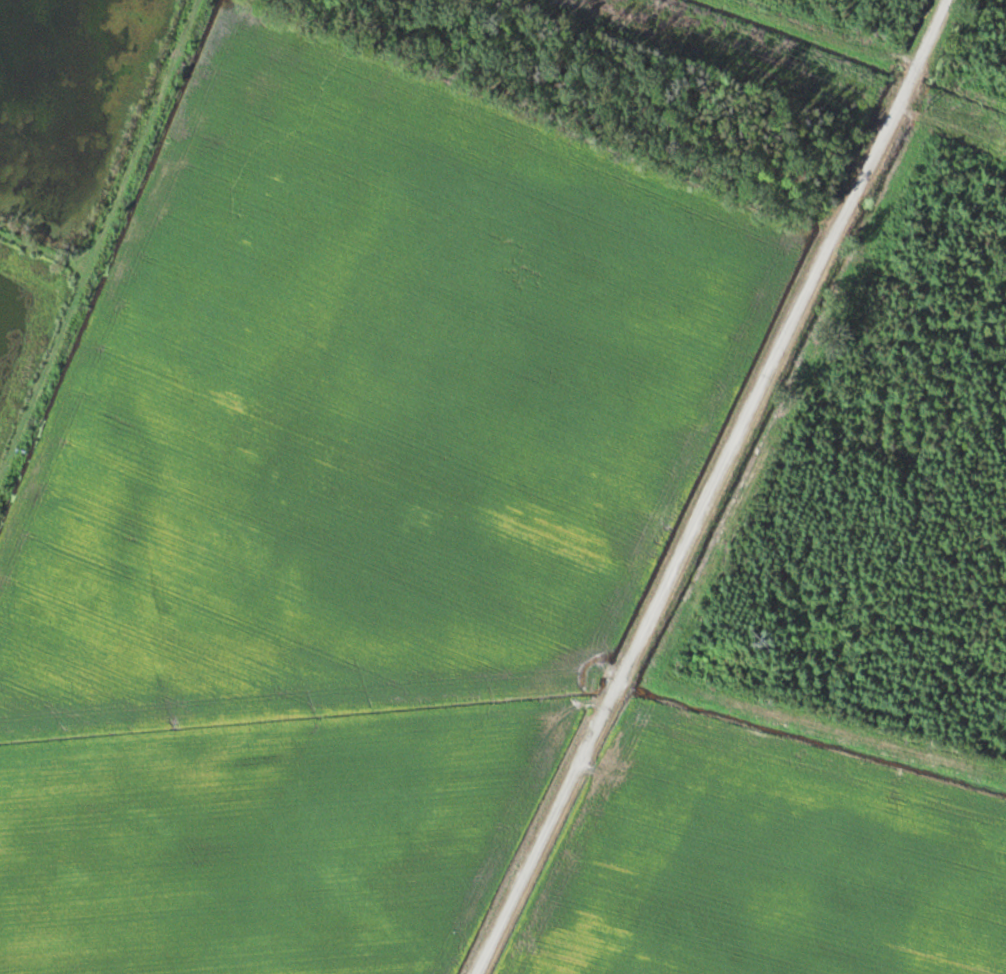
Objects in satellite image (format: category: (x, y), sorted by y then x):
power tower: (929, 103)
road: (712, 486)

